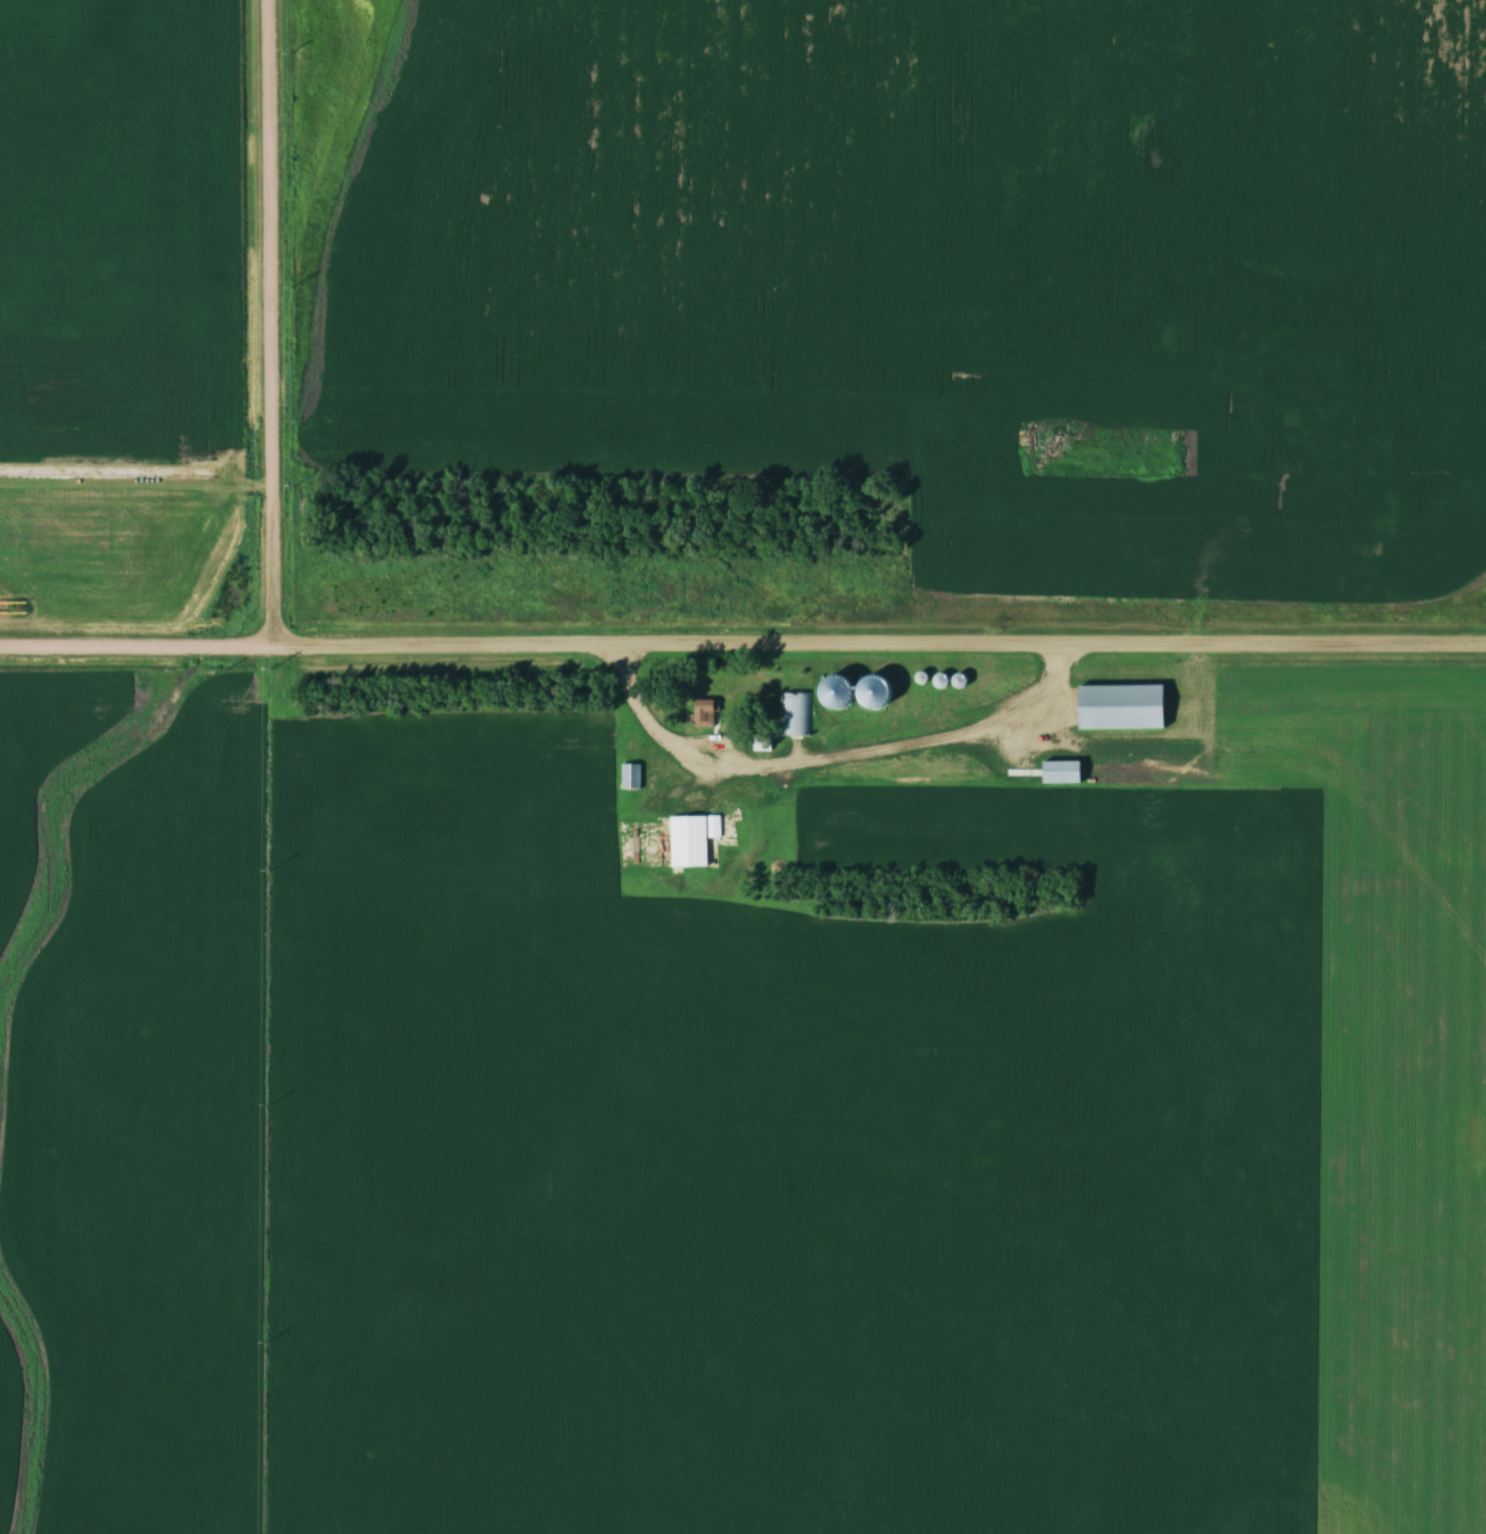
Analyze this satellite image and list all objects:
road: (272, 321)
building: (1296, 460)
building: (1235, 474)
road: (137, 483)
road: (1210, 519)
building: (1160, 547)
building: (1340, 581)
road: (742, 641)
building: (1115, 707)
building: (699, 713)
building: (794, 723)
road: (842, 753)
building: (1061, 767)
building: (632, 776)
building: (626, 840)
building: (689, 840)

